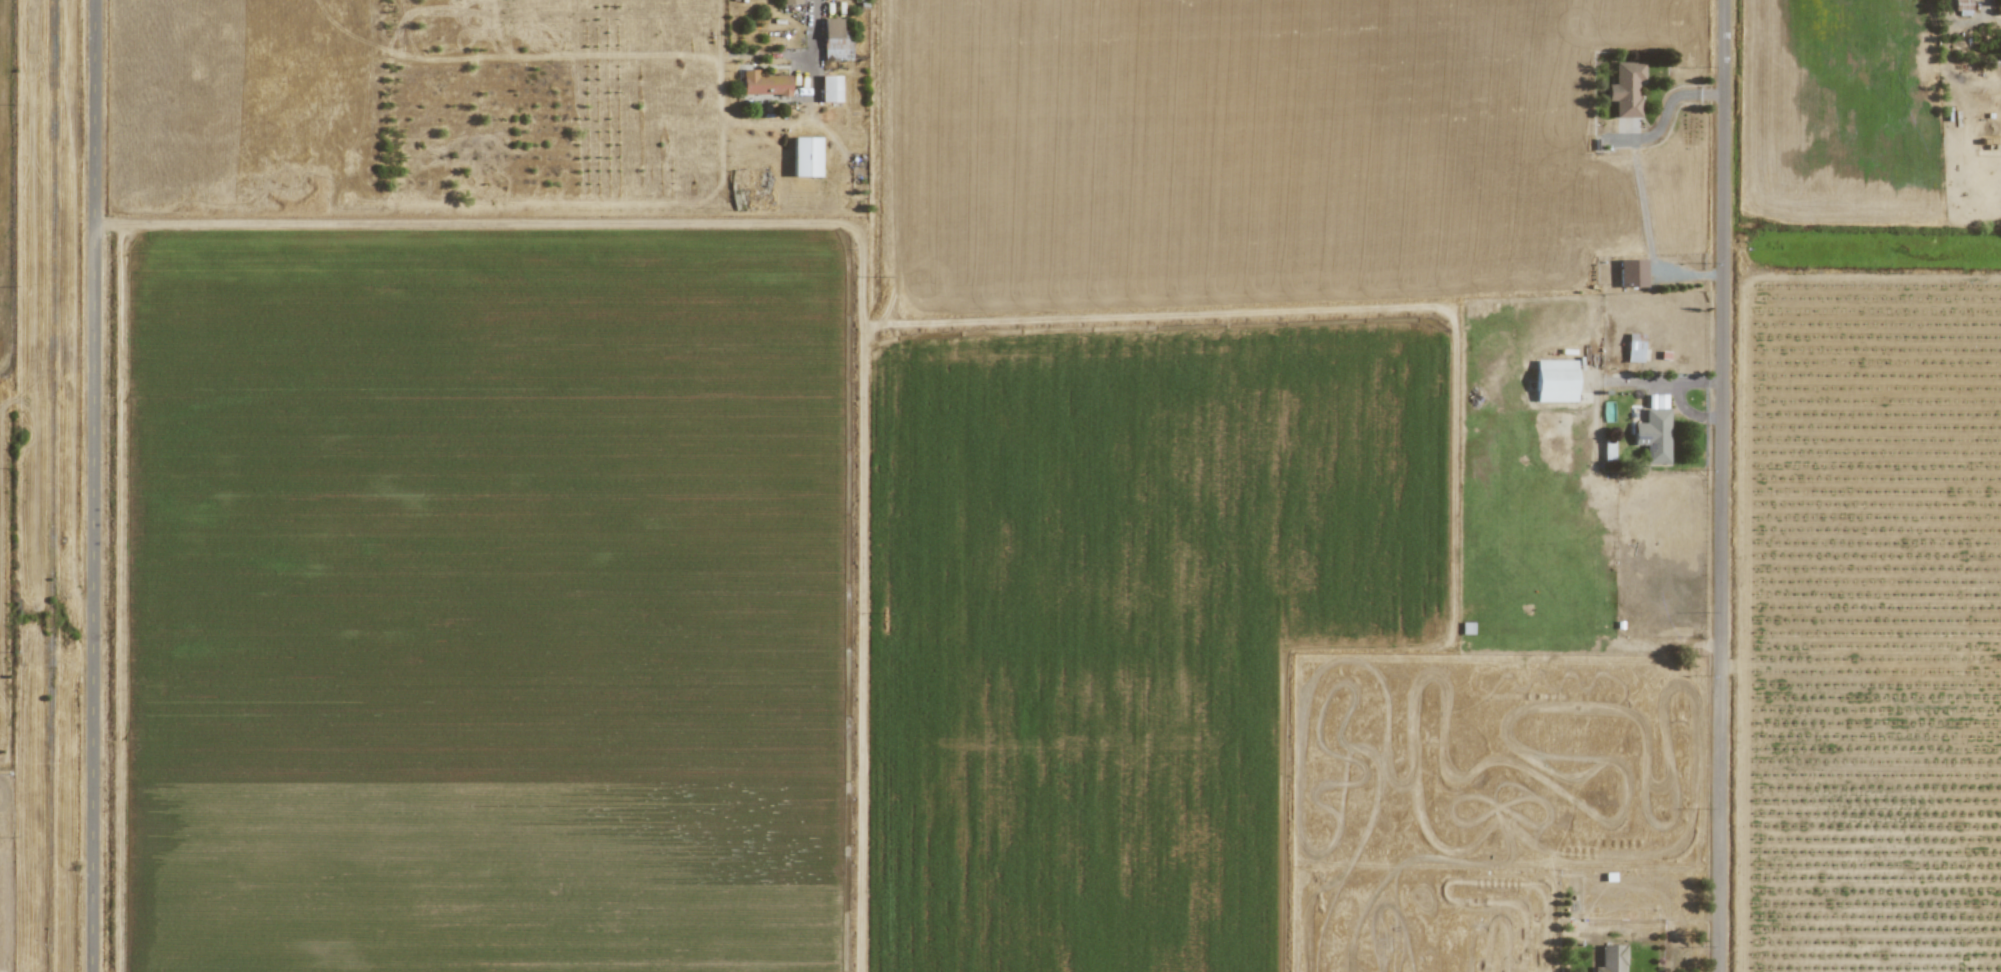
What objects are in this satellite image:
road: (1981, 3)
building: (1962, 7)
building: (835, 40)
road: (786, 59)
road: (814, 82)
building: (764, 83)
building: (830, 88)
building: (1626, 88)
road: (1664, 116)
building: (805, 156)
building: (1631, 272)
road: (1689, 275)
building: (1634, 347)
building: (1554, 380)
road: (1689, 382)
road: (1652, 383)
road: (1690, 413)
building: (1653, 435)
road: (1723, 485)
road: (94, 486)
road: (1860, 668)
building: (1611, 958)

